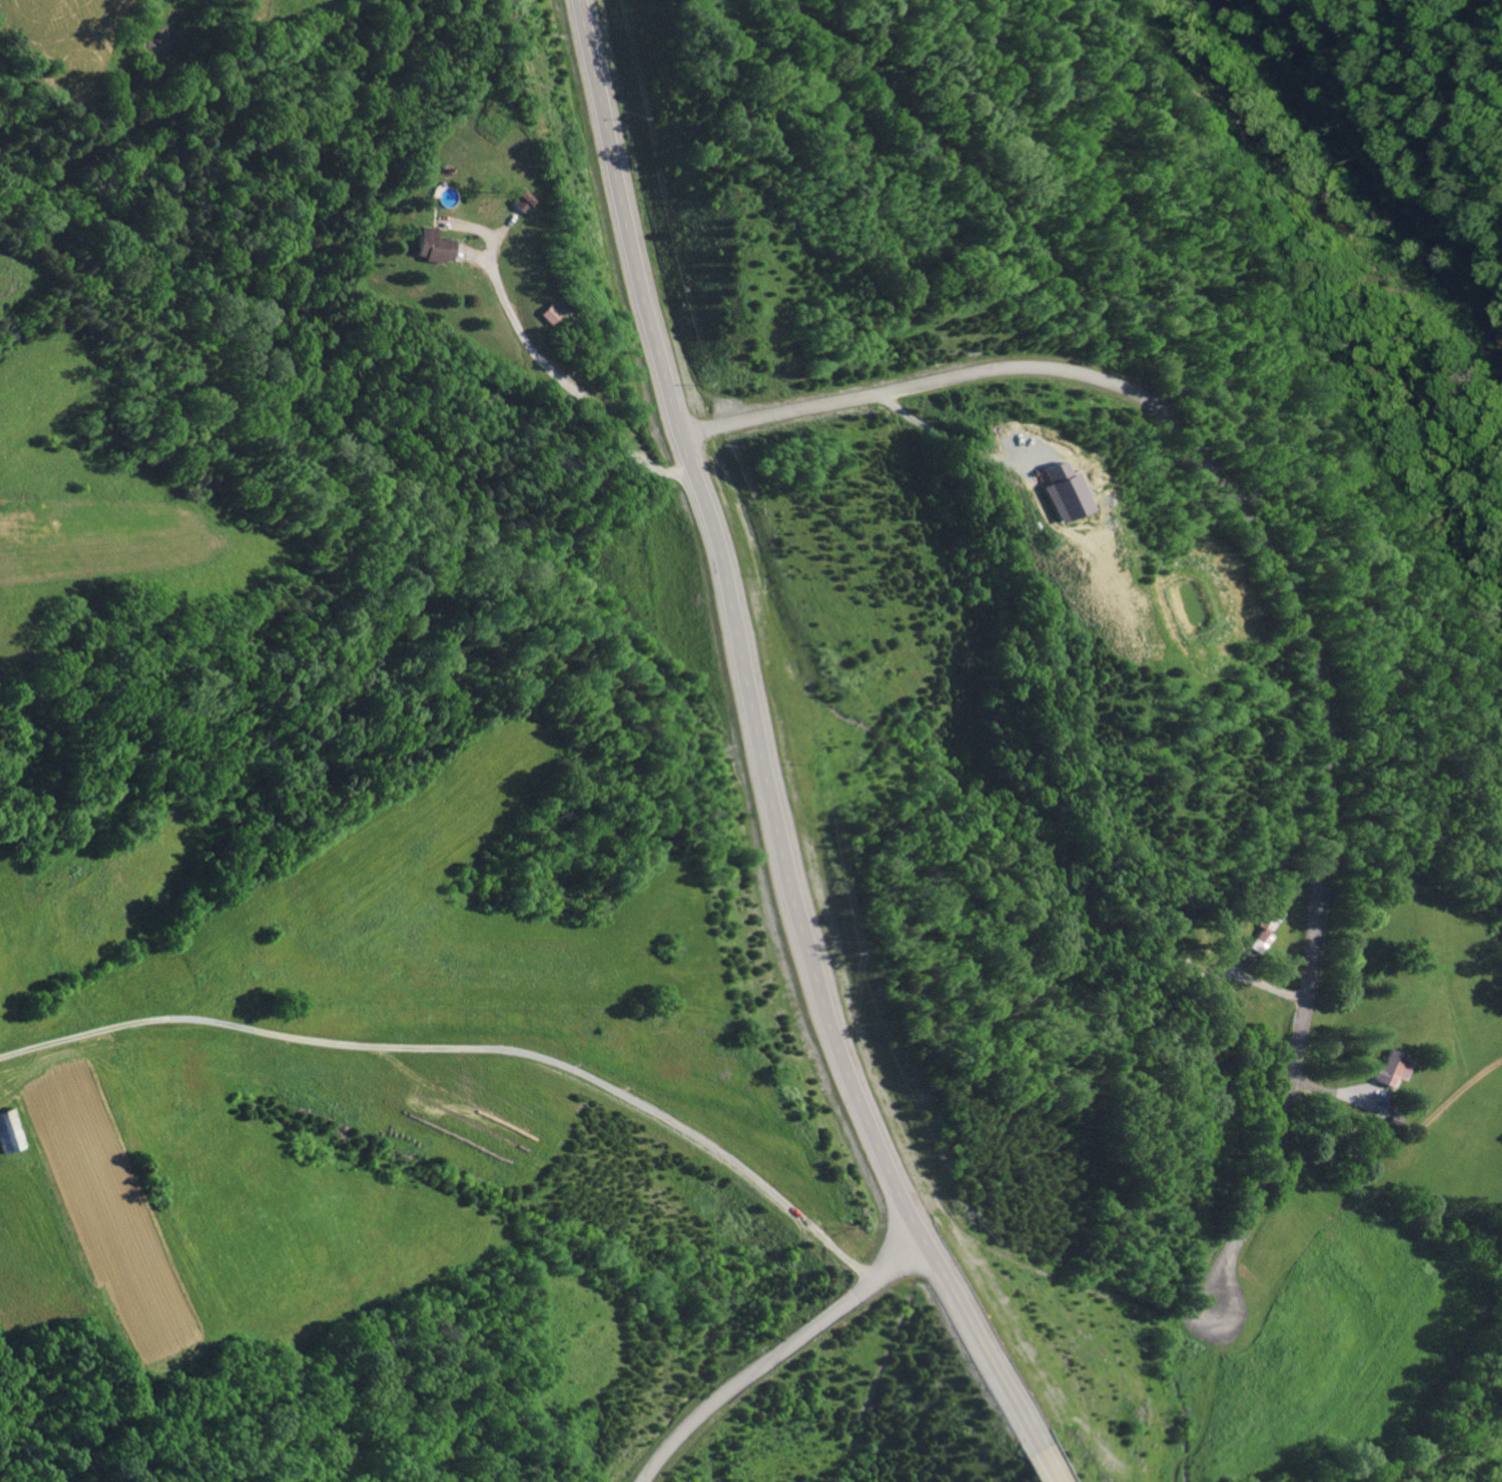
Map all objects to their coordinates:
building: (522, 199)
building: (429, 244)
road: (659, 305)
building: (549, 310)
building: (1060, 491)
road: (1310, 750)
building: (1264, 929)
road: (841, 1034)
building: (1390, 1068)
building: (9, 1131)
road: (192, 1343)
road: (761, 1343)
road: (1030, 1459)

